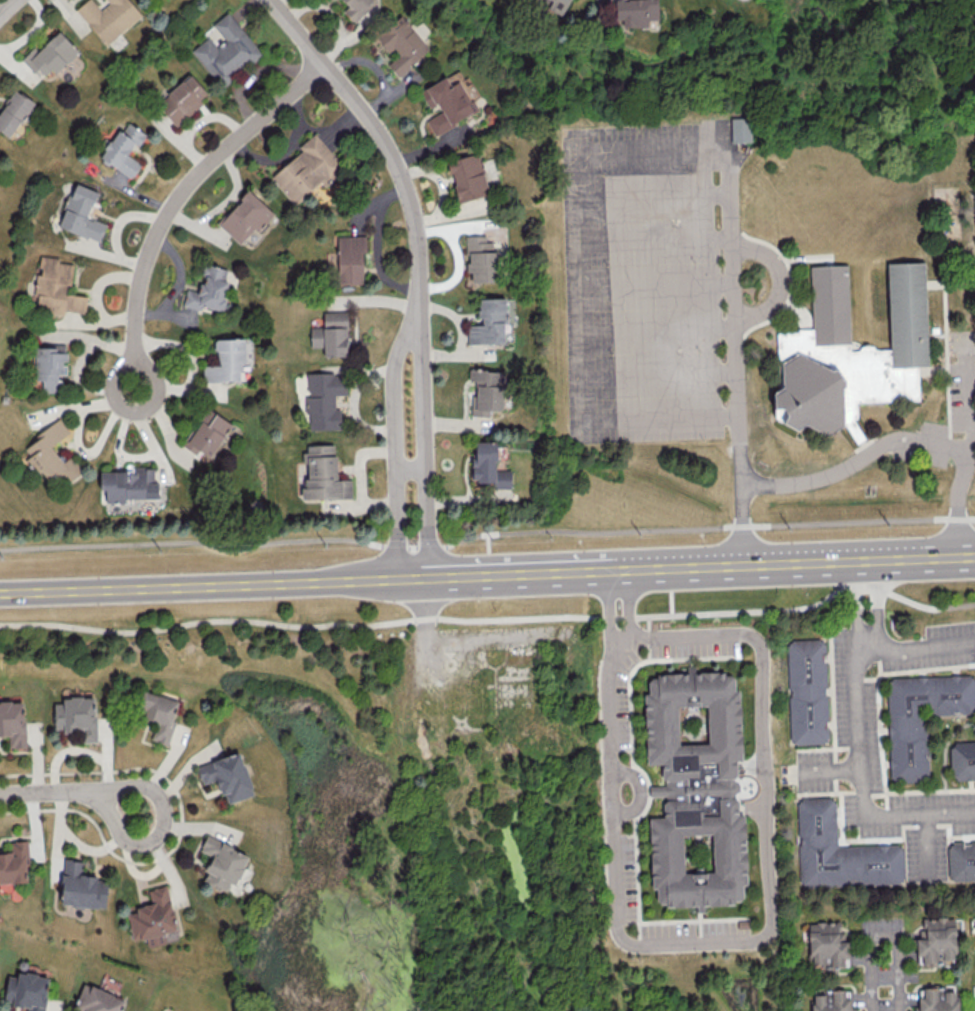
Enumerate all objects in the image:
building: (558, 5)
building: (356, 7)
road: (9, 9)
building: (635, 12)
building: (108, 17)
building: (402, 44)
building: (226, 50)
building: (50, 55)
building: (182, 99)
building: (447, 103)
building: (14, 112)
building: (743, 134)
road: (656, 147)
building: (123, 148)
building: (307, 169)
building: (467, 177)
road: (181, 202)
building: (81, 213)
building: (245, 216)
building: (350, 258)
building: (480, 259)
road: (418, 264)
road: (781, 285)
parking lot: (646, 286)
building: (56, 287)
building: (209, 289)
building: (488, 322)
building: (331, 334)
building: (228, 359)
building: (853, 360)
building: (50, 364)
building: (487, 390)
building: (324, 399)
parking lot: (948, 428)
building: (207, 433)
road: (900, 445)
building: (51, 455)
building: (488, 465)
building: (323, 473)
building: (129, 484)
road: (484, 534)
road: (486, 543)
road: (695, 566)
road: (208, 585)
road: (669, 601)
road: (490, 617)
road: (497, 636)
road: (647, 638)
road: (920, 646)
road: (424, 657)
building: (807, 691)
building: (159, 714)
building: (76, 717)
building: (920, 717)
building: (13, 722)
road: (860, 743)
building: (962, 760)
building: (227, 776)
building: (695, 788)
road: (25, 793)
road: (162, 807)
road: (926, 847)
building: (839, 851)
building: (961, 860)
building: (14, 863)
building: (222, 863)
building: (81, 886)
building: (153, 917)
road: (890, 934)
building: (936, 939)
road: (726, 941)
building: (827, 944)
building: (27, 990)
building: (938, 999)
building: (97, 1000)
building: (831, 1000)

